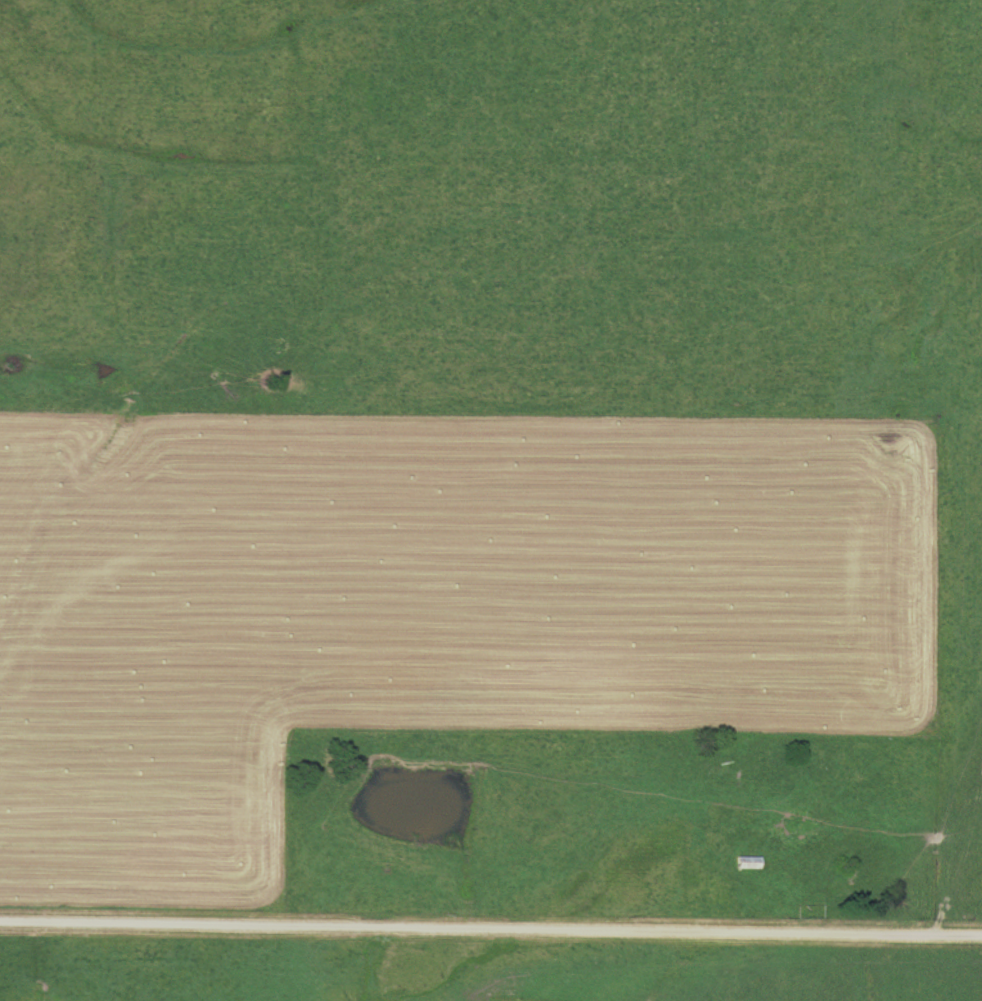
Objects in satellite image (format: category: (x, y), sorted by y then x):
building: (746, 863)
road: (490, 928)

